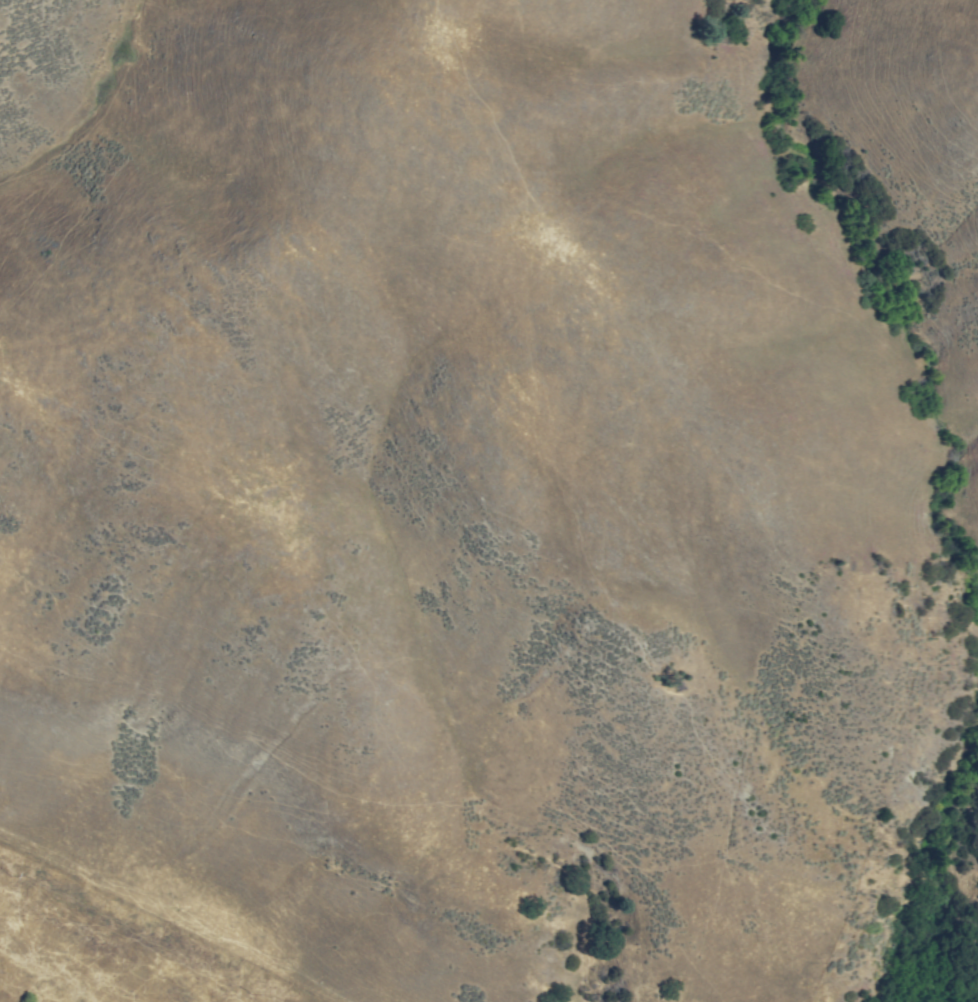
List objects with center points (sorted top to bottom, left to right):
power tower: (9, 876)

